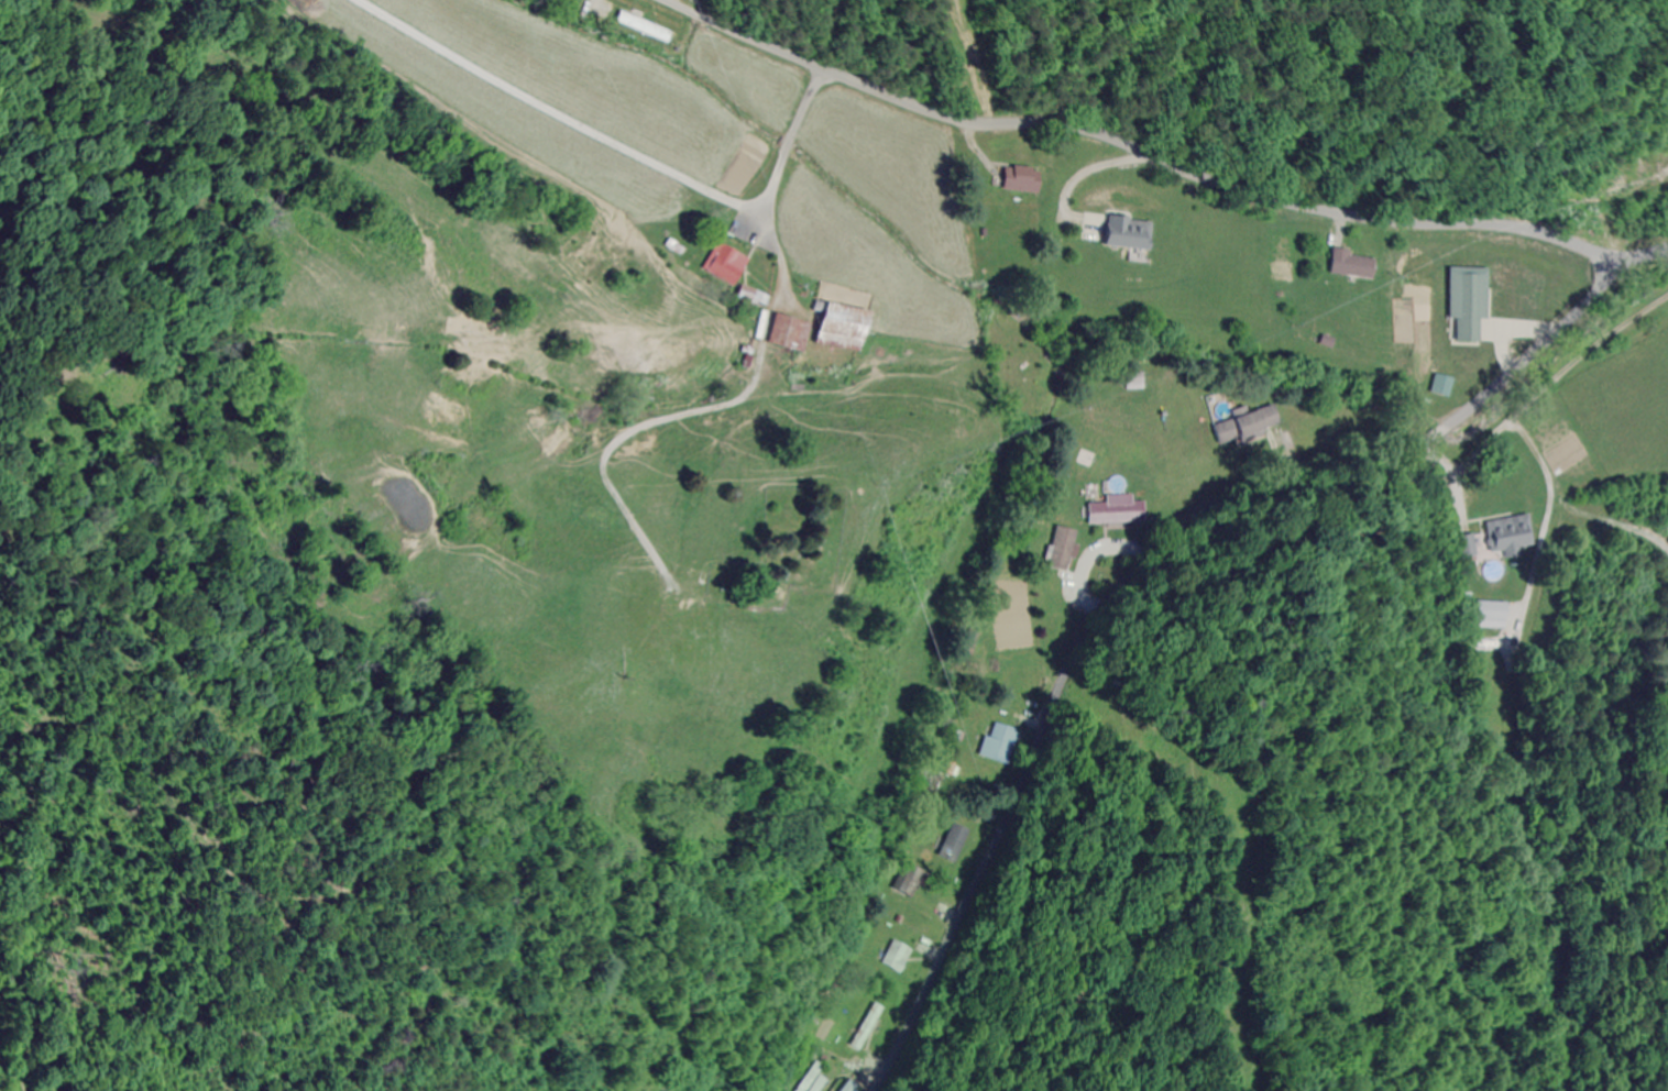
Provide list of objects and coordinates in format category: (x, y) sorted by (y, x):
building: (640, 26)
road: (560, 117)
road: (791, 139)
road: (1166, 157)
building: (1016, 179)
building: (723, 264)
building: (1350, 264)
building: (1463, 301)
building: (834, 327)
building: (784, 333)
building: (1131, 382)
road: (702, 411)
building: (1245, 426)
road: (1561, 488)
building: (1116, 510)
building: (1511, 537)
road: (1144, 569)
building: (1003, 743)
building: (953, 842)
building: (895, 957)
building: (865, 1026)

